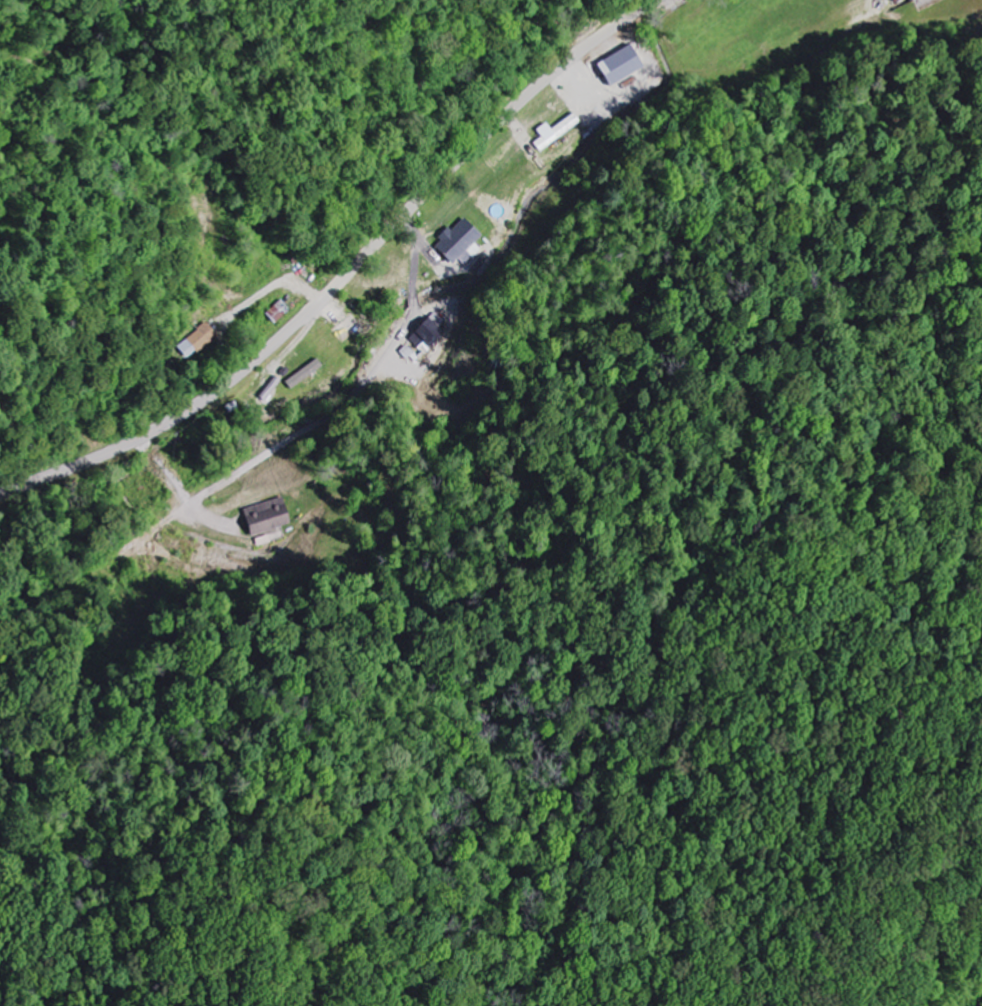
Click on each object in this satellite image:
building: (558, 131)
building: (466, 245)
road: (347, 276)
building: (427, 337)
building: (306, 374)
building: (270, 517)

